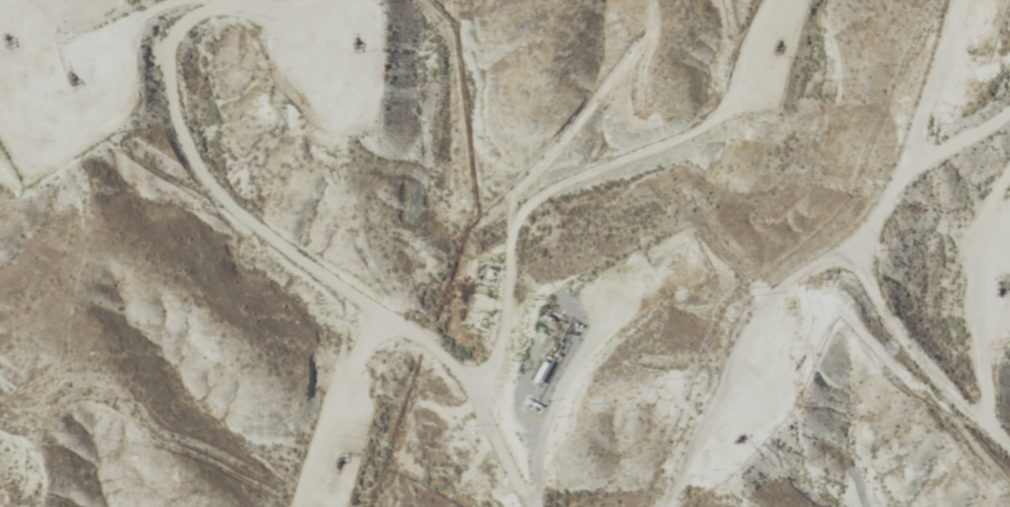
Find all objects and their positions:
road: (250, 299)
road: (817, 313)
road: (4, 440)

